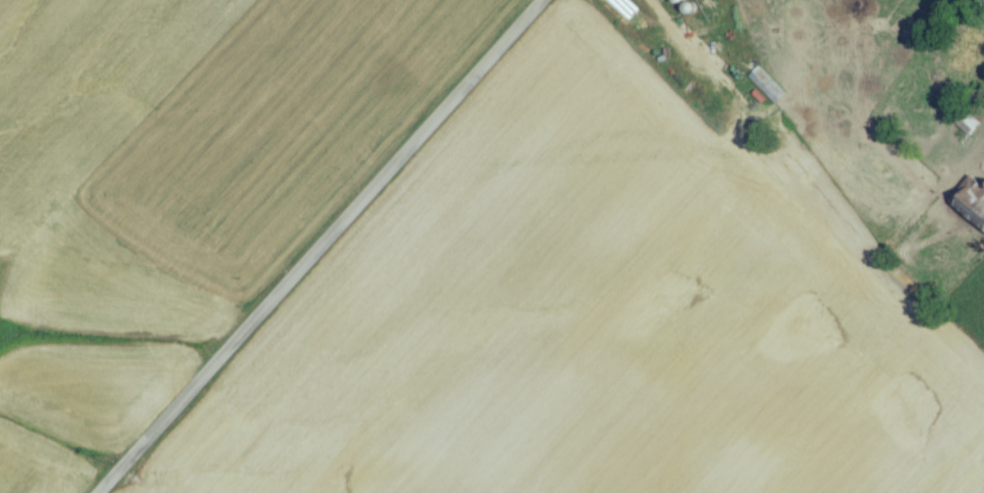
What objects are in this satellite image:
road: (670, 29)
building: (967, 54)
building: (766, 90)
building: (966, 126)
building: (972, 209)
road: (322, 247)

